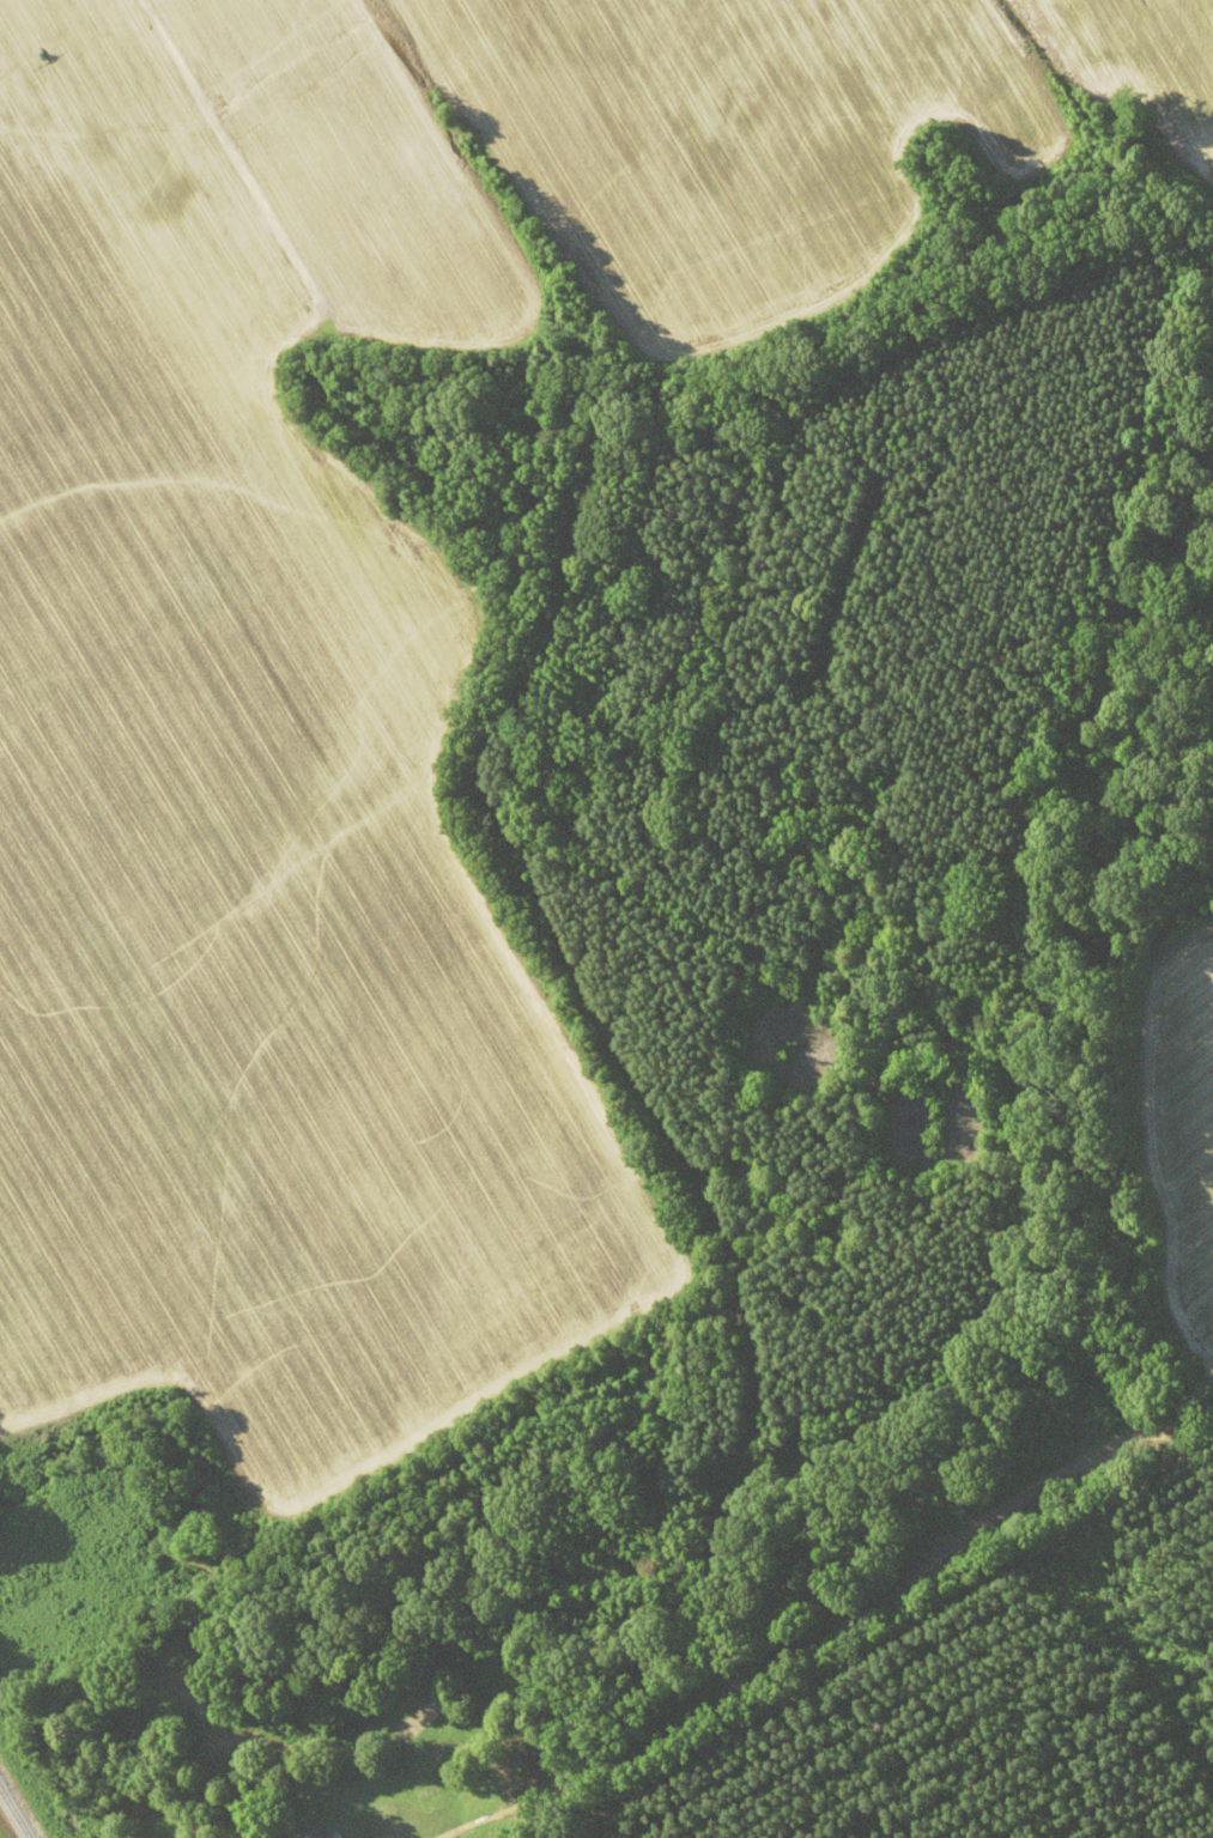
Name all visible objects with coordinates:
road: (411, 1467)
road: (823, 1620)
railway: (13, 1815)
building: (316, 1834)

